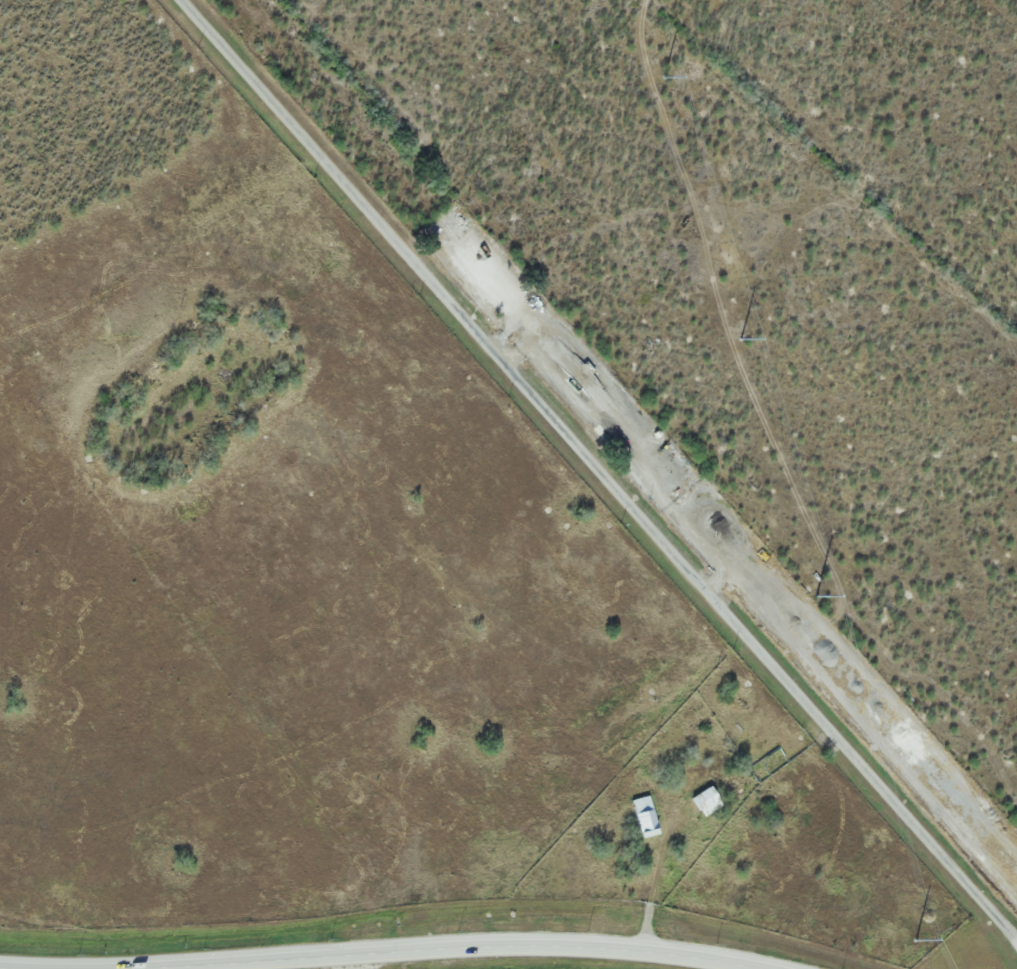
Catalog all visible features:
power tower: (663, 77)
power tower: (740, 339)
road: (599, 470)
power tower: (815, 596)
building: (704, 801)
building: (642, 816)
power tower: (915, 939)
road: (428, 952)

